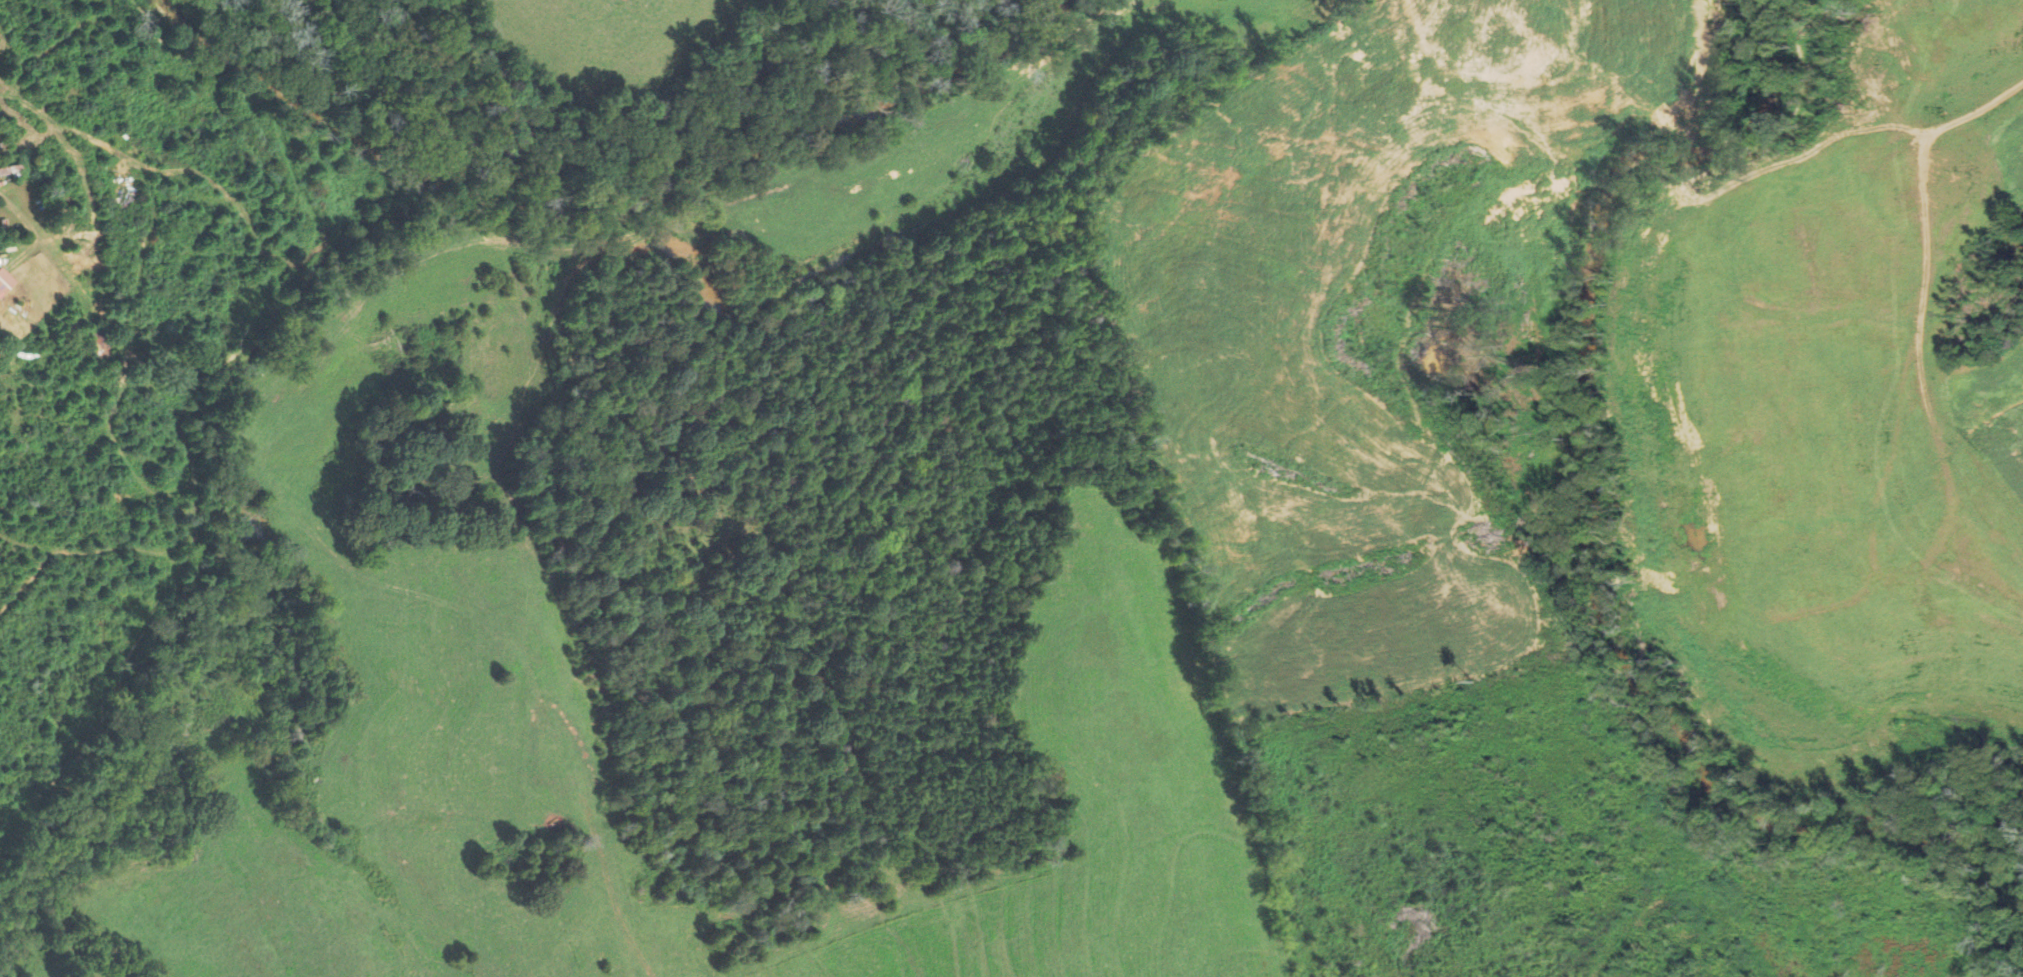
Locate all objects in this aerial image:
building: (4, 282)

